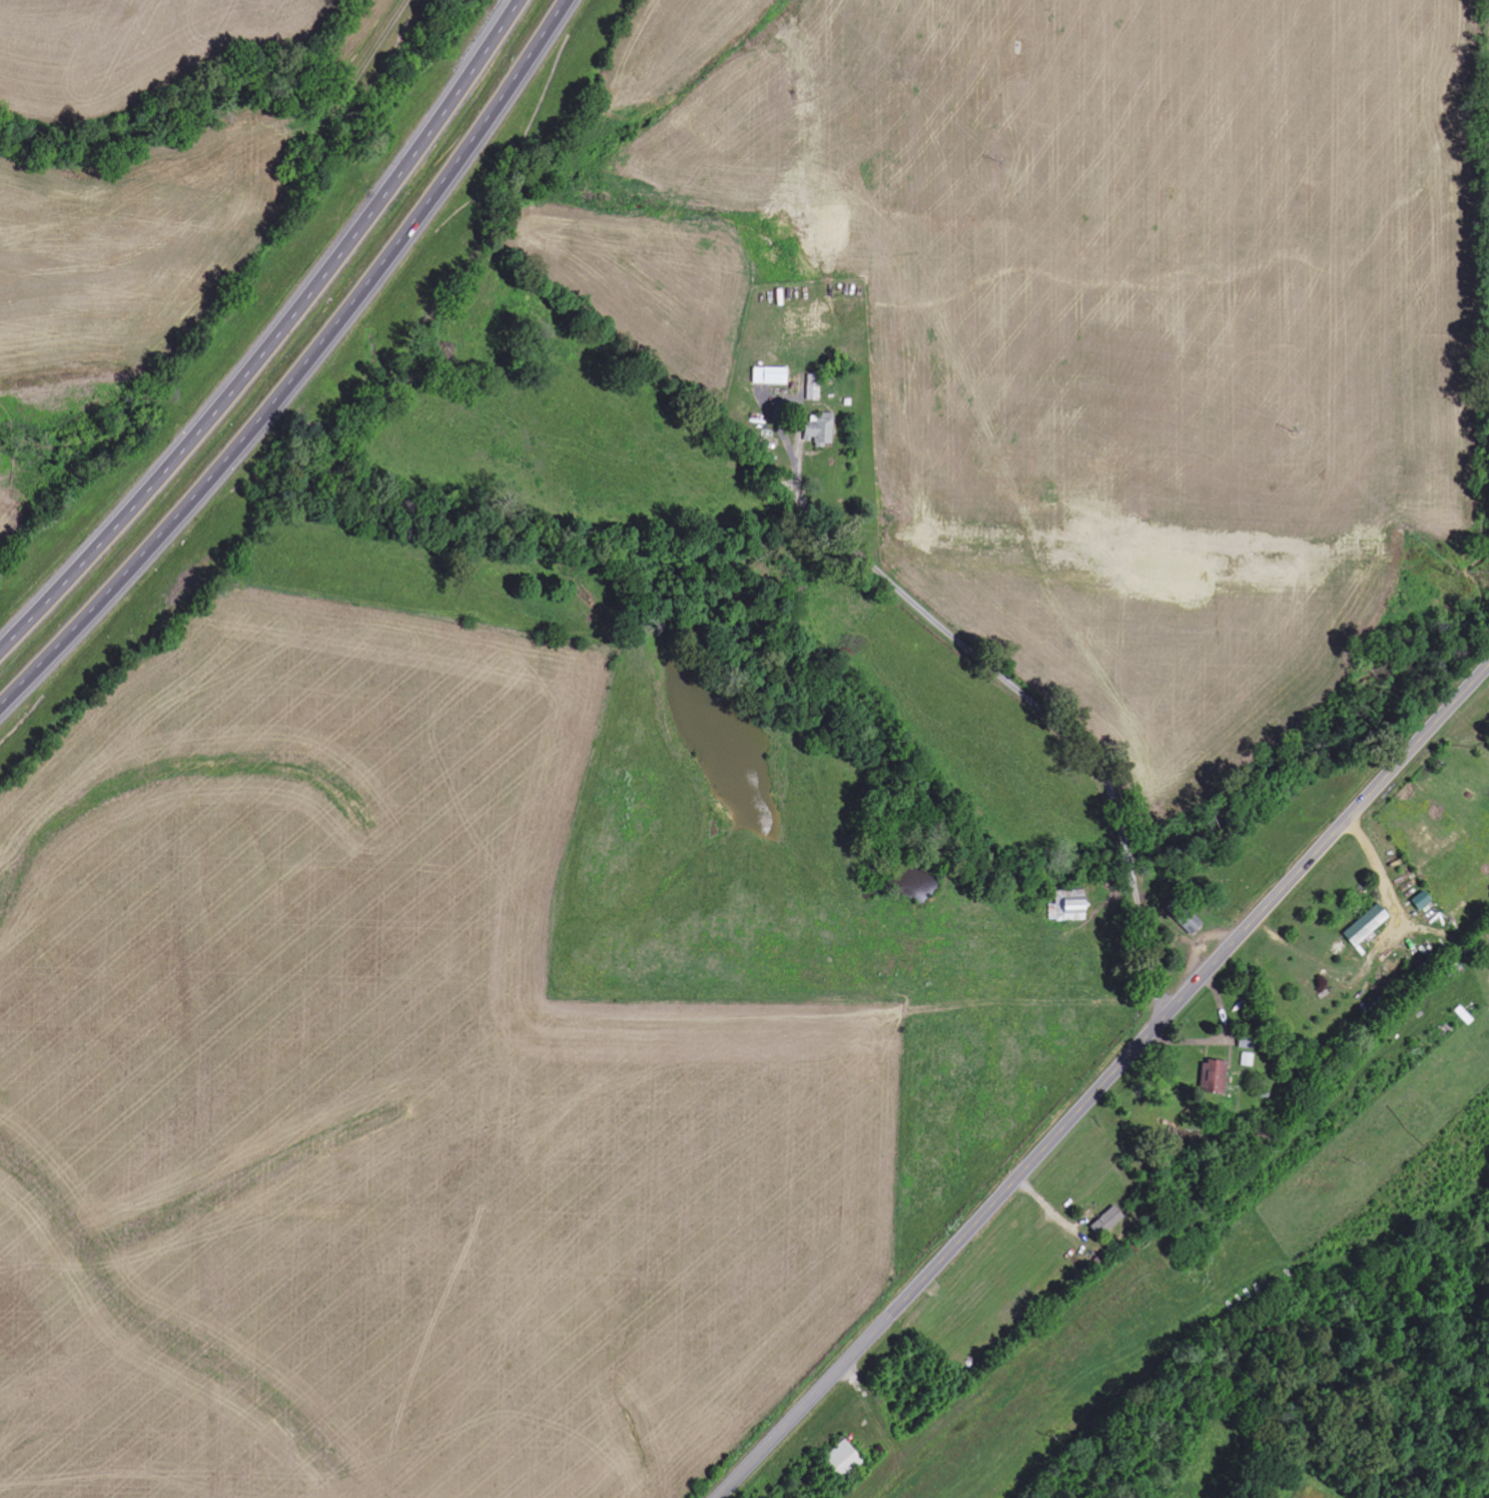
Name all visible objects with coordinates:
road: (378, 46)
road: (273, 335)
road: (301, 368)
building: (771, 376)
building: (822, 428)
road: (1045, 711)
building: (1423, 900)
building: (1073, 907)
building: (1367, 925)
road: (1208, 969)
building: (1216, 1077)
building: (1109, 1222)
road: (821, 1386)

